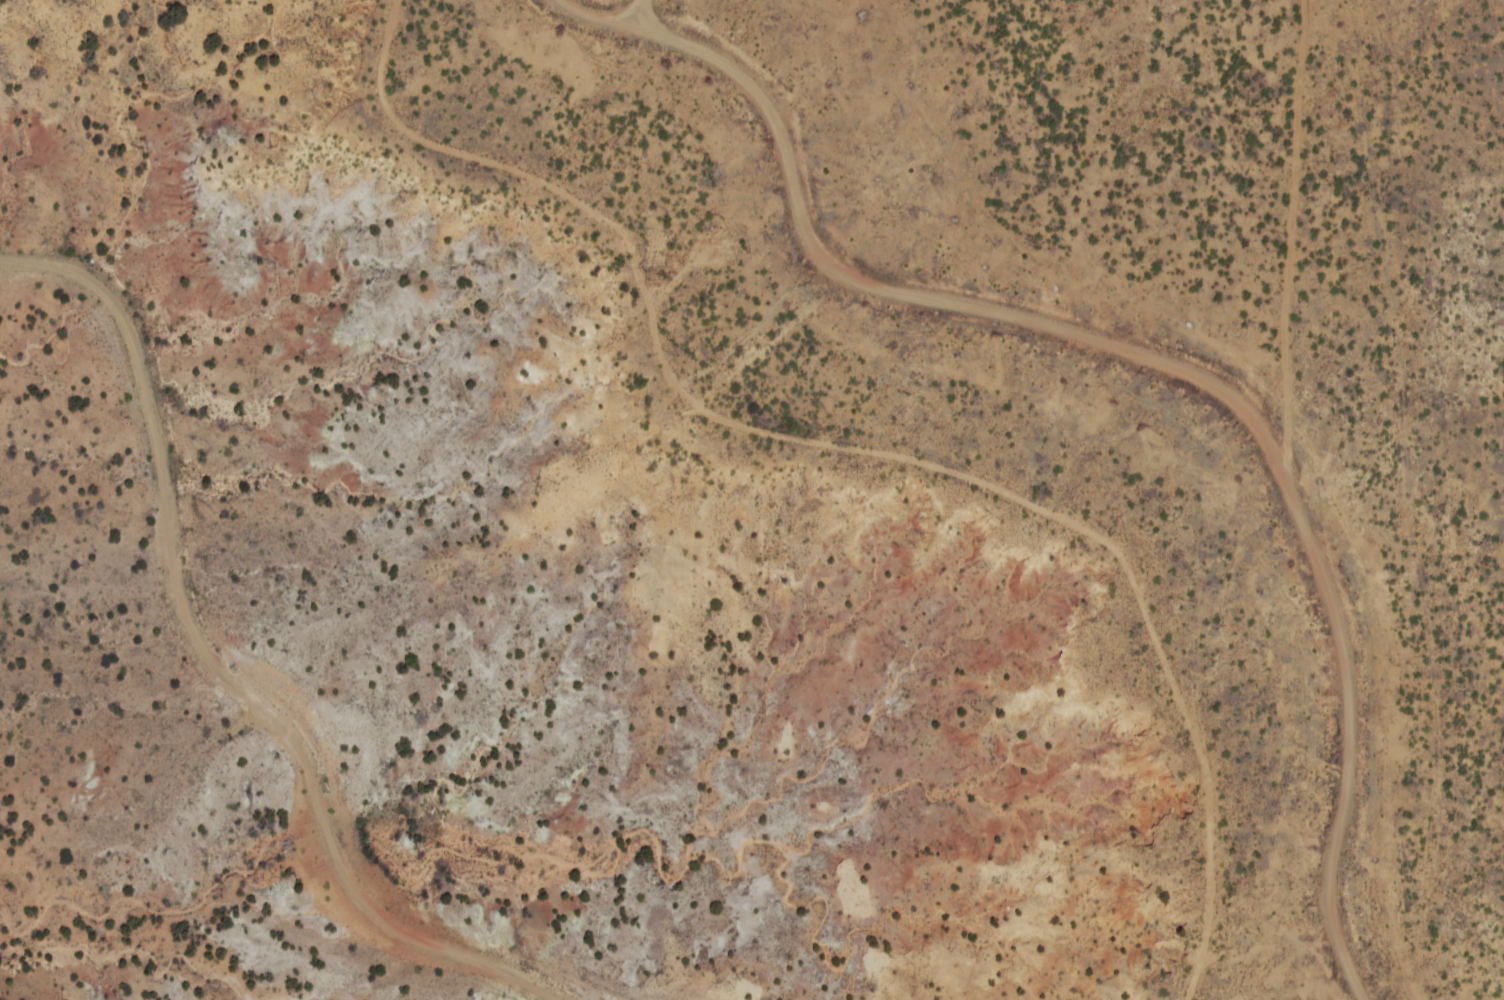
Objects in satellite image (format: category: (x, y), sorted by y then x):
road: (640, 14)
road: (1140, 355)
road: (216, 663)

